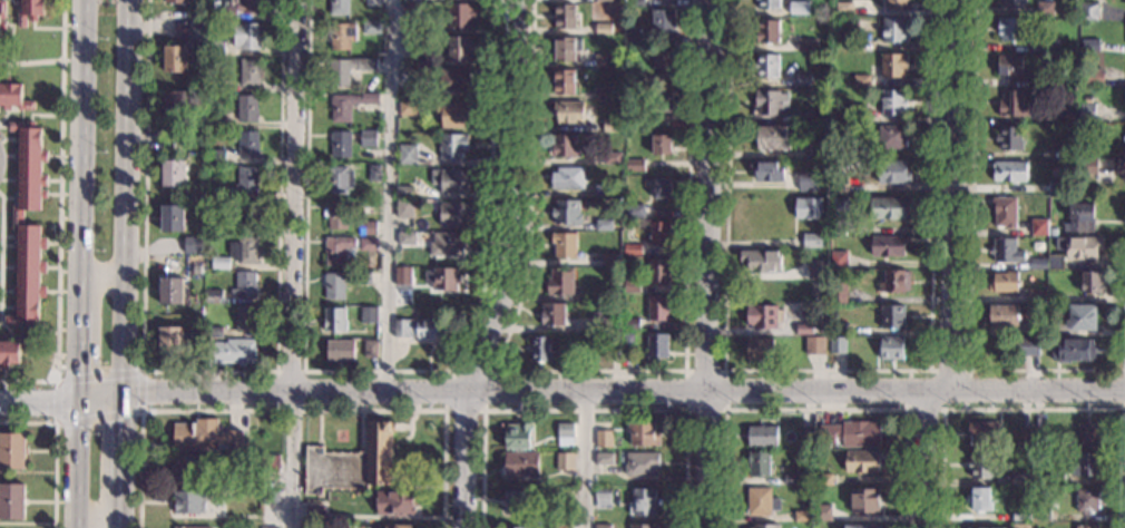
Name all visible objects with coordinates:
building: (407, 0)
building: (606, 0)
building: (175, 1)
building: (1014, 2)
building: (635, 3)
building: (767, 3)
building: (896, 4)
building: (339, 7)
building: (843, 7)
building: (799, 8)
building: (1044, 8)
building: (238, 9)
building: (410, 9)
building: (29, 11)
building: (1088, 11)
building: (1, 13)
building: (212, 16)
building: (460, 16)
building: (566, 17)
building: (197, 18)
building: (663, 22)
building: (372, 28)
building: (431, 29)
building: (604, 29)
building: (1010, 29)
building: (893, 30)
building: (766, 32)
building: (196, 35)
building: (245, 35)
building: (341, 35)
building: (636, 39)
building: (413, 40)
building: (806, 45)
building: (1049, 45)
building: (1089, 45)
building: (863, 46)
building: (459, 47)
building: (216, 48)
building: (566, 48)
building: (174, 59)
building: (664, 60)
building: (604, 61)
road: (30, 63)
building: (765, 66)
building: (892, 66)
building: (1010, 66)
building: (348, 69)
building: (250, 72)
building: (409, 76)
building: (636, 78)
building: (1094, 78)
building: (454, 79)
building: (801, 80)
building: (860, 80)
building: (564, 81)
building: (1041, 81)
building: (216, 86)
building: (603, 94)
building: (12, 96)
building: (663, 101)
building: (892, 101)
building: (767, 102)
building: (174, 104)
building: (349, 104)
building: (1014, 105)
building: (246, 108)
building: (407, 108)
building: (568, 111)
building: (1086, 113)
building: (454, 114)
building: (857, 114)
building: (1067, 115)
building: (801, 117)
building: (214, 119)
building: (612, 125)
road: (80, 130)
building: (771, 137)
building: (891, 137)
building: (232, 138)
building: (368, 138)
building: (1009, 139)
building: (247, 144)
building: (662, 144)
building: (340, 145)
building: (453, 146)
building: (565, 146)
building: (813, 150)
building: (858, 151)
building: (1060, 151)
building: (407, 154)
building: (613, 158)
building: (635, 165)
building: (1086, 166)
building: (766, 169)
building: (1009, 170)
building: (215, 172)
building: (893, 172)
building: (373, 173)
building: (173, 174)
building: (567, 177)
building: (338, 179)
building: (451, 179)
building: (246, 180)
building: (806, 180)
building: (840, 185)
building: (661, 188)
building: (1057, 188)
building: (604, 189)
building: (403, 192)
building: (222, 193)
road: (292, 195)
road: (390, 195)
road: (958, 196)
road: (126, 197)
building: (808, 207)
building: (839, 207)
building: (404, 208)
building: (890, 208)
building: (634, 212)
building: (1005, 212)
building: (454, 213)
building: (566, 213)
building: (336, 215)
building: (246, 216)
road: (58, 217)
building: (1079, 217)
building: (17, 218)
building: (172, 218)
building: (604, 223)
building: (368, 227)
building: (1038, 227)
building: (223, 228)
building: (1053, 232)
building: (659, 234)
building: (407, 237)
building: (812, 239)
building: (369, 244)
building: (449, 244)
building: (193, 245)
building: (564, 245)
building: (887, 245)
building: (630, 247)
building: (1079, 247)
building: (244, 250)
building: (336, 250)
building: (1005, 251)
road: (1, 258)
building: (610, 258)
building: (761, 260)
building: (839, 260)
building: (221, 262)
building: (1055, 262)
building: (1039, 263)
road: (711, 264)
road: (506, 266)
building: (196, 270)
building: (816, 270)
building: (658, 271)
building: (403, 275)
road: (101, 276)
building: (362, 277)
building: (443, 278)
building: (893, 281)
building: (1002, 281)
building: (559, 282)
building: (1092, 282)
building: (245, 284)
building: (335, 284)
building: (632, 286)
building: (170, 292)
building: (838, 293)
building: (601, 294)
building: (1036, 295)
building: (213, 296)
building: (1056, 299)
road: (969, 302)
building: (657, 307)
building: (1030, 311)
building: (1046, 311)
building: (369, 314)
building: (554, 314)
building: (1002, 314)
building: (763, 316)
building: (891, 317)
building: (1082, 317)
building: (245, 319)
building: (334, 320)
building: (601, 322)
building: (630, 323)
building: (837, 324)
building: (417, 329)
building: (803, 329)
road: (76, 331)
building: (213, 332)
building: (170, 340)
building: (627, 342)
building: (614, 343)
building: (837, 344)
building: (814, 345)
building: (657, 346)
building: (1026, 346)
building: (891, 348)
building: (370, 349)
building: (541, 349)
building: (759, 349)
building: (1072, 350)
building: (12, 351)
building: (233, 351)
building: (340, 351)
road: (208, 372)
road: (585, 372)
road: (825, 372)
road: (967, 372)
road: (380, 373)
road: (275, 379)
road: (1123, 390)
road: (624, 391)
road: (99, 399)
road: (37, 400)
road: (482, 408)
road: (904, 409)
road: (815, 410)
road: (1033, 410)
road: (139, 411)
road: (293, 411)
road: (583, 411)
road: (724, 411)
building: (643, 433)
building: (852, 433)
building: (982, 433)
building: (1088, 433)
building: (806, 434)
building: (518, 436)
building: (565, 436)
building: (762, 436)
building: (1039, 436)
building: (205, 437)
building: (1024, 437)
building: (603, 439)
road: (121, 440)
road: (55, 448)
building: (12, 451)
road: (286, 459)
road: (584, 459)
road: (926, 460)
building: (566, 461)
building: (862, 461)
building: (352, 462)
building: (759, 462)
road: (74, 463)
building: (270, 463)
building: (521, 463)
building: (604, 465)
building: (640, 465)
building: (980, 465)
building: (1086, 465)
road: (394, 467)
building: (186, 469)
building: (1018, 477)
building: (793, 478)
building: (1055, 478)
building: (824, 479)
building: (564, 493)
building: (268, 496)
building: (979, 498)
building: (601, 499)
building: (512, 500)
building: (864, 500)
building: (1087, 500)
building: (12, 501)
building: (761, 501)
building: (188, 502)
building: (394, 502)
building: (643, 502)
road: (120, 506)
building: (823, 511)
building: (1041, 511)
building: (314, 514)
building: (1021, 515)
road: (97, 516)
building: (803, 516)
building: (1019, 525)
building: (399, 526)
building: (549, 526)
building: (561, 526)
building: (601, 526)
building: (644, 526)
building: (766, 526)
building: (860, 526)
building: (1085, 526)
building: (186, 527)
building: (268, 527)
building: (512, 527)

